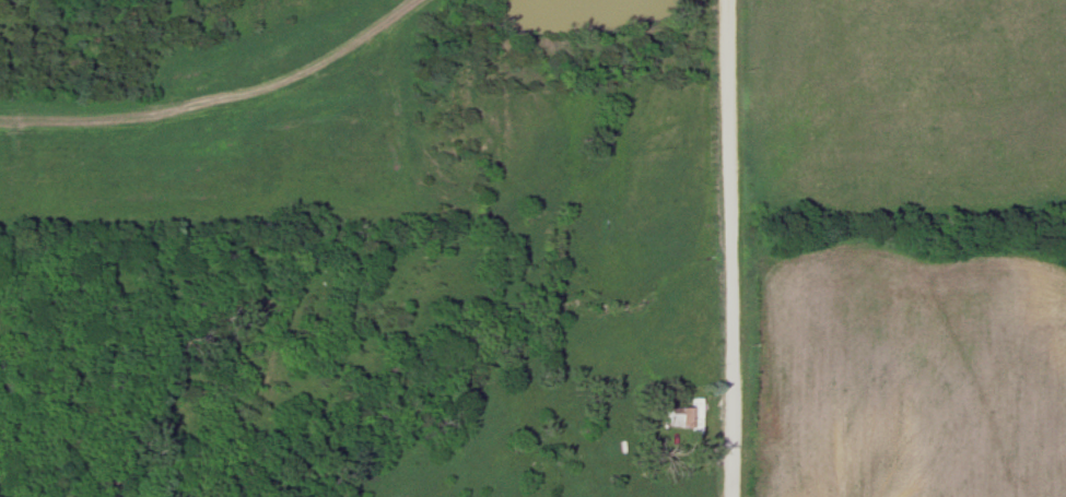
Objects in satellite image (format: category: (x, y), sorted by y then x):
road: (726, 248)

